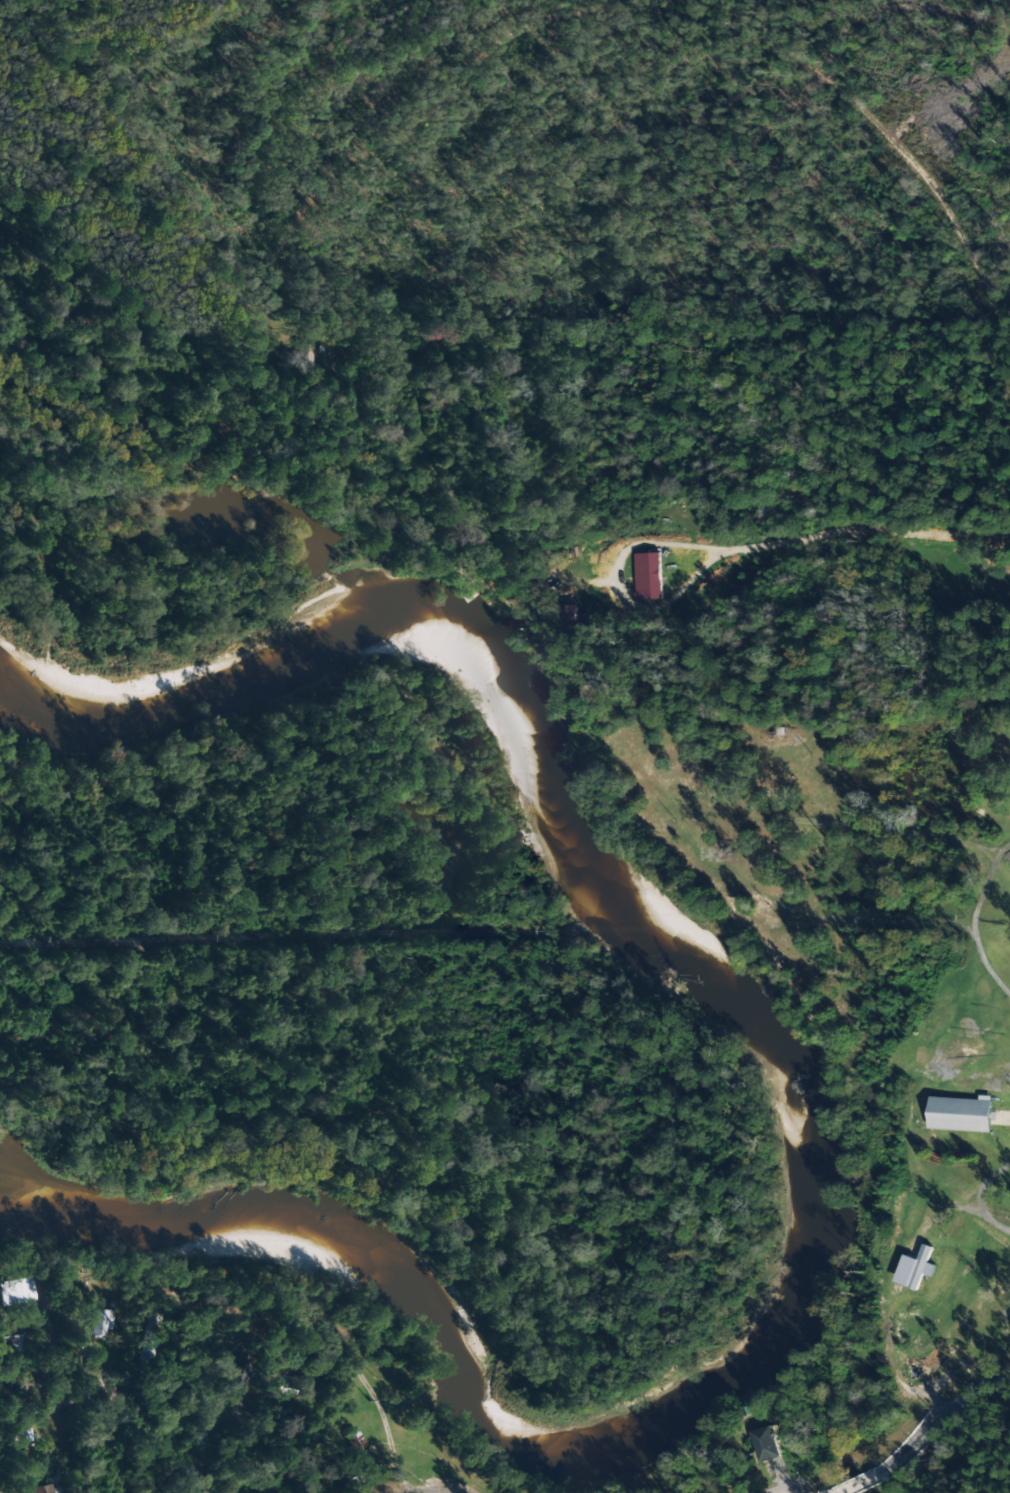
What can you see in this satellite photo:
road: (416, 88)
road: (871, 115)
road: (814, 532)
building: (649, 576)
building: (575, 613)
building: (960, 1113)
building: (916, 1268)
building: (14, 1291)
building: (99, 1323)
building: (10, 1344)
building: (235, 1374)
building: (20, 1385)
building: (279, 1385)
road: (44, 1390)
road: (902, 1424)
building: (768, 1443)
road: (160, 1463)
road: (341, 1463)
road: (783, 1484)
building: (41, 1489)

